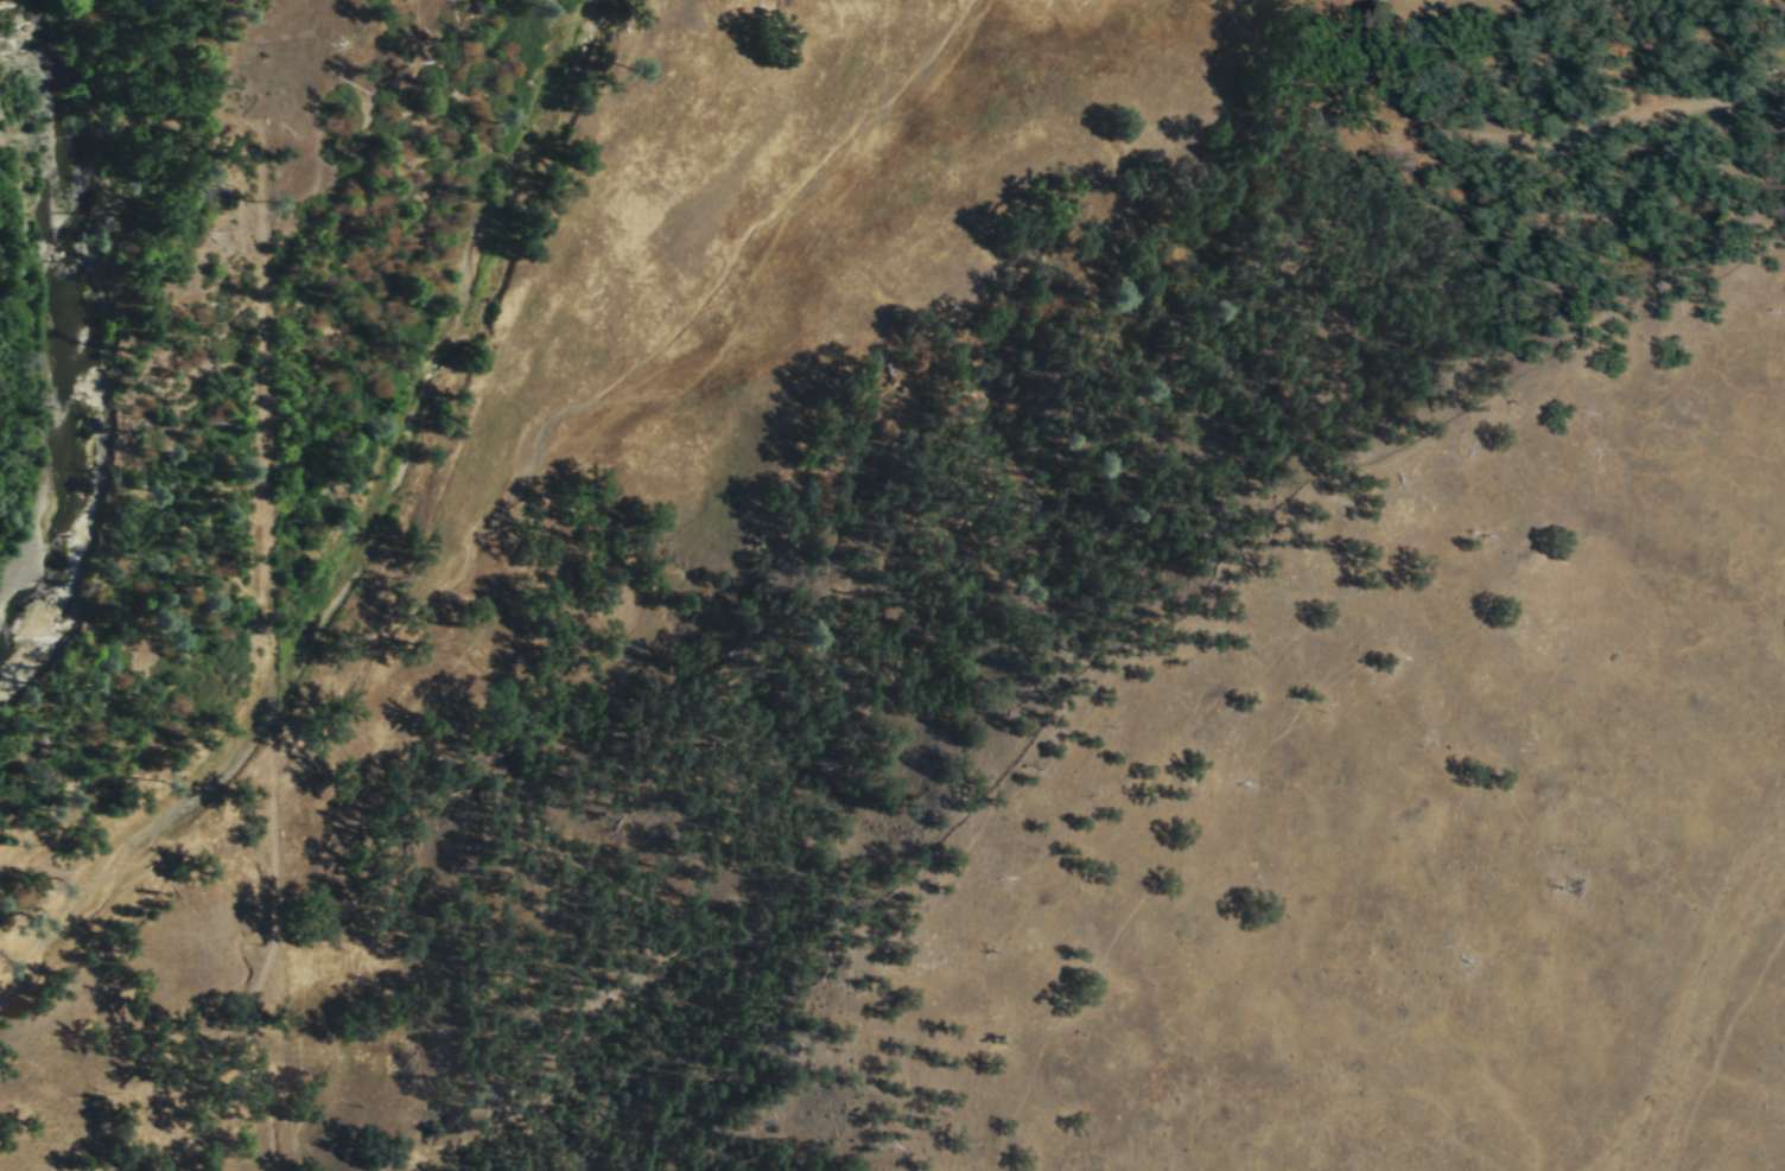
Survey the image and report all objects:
road: (1544, 142)
river: (66, 313)

